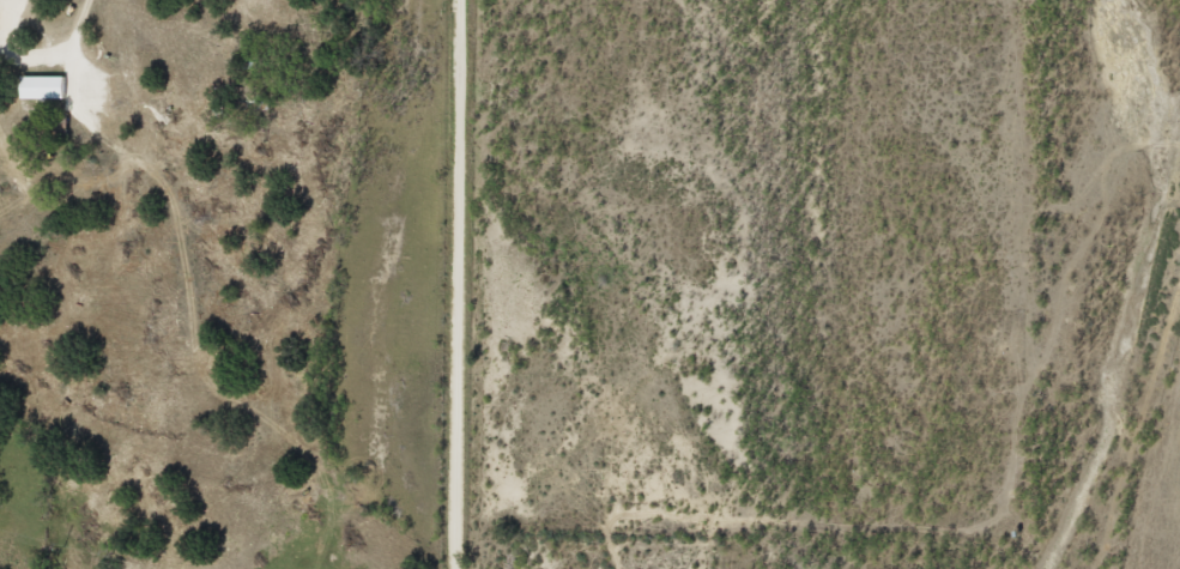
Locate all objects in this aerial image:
building: (44, 85)
road: (460, 284)

